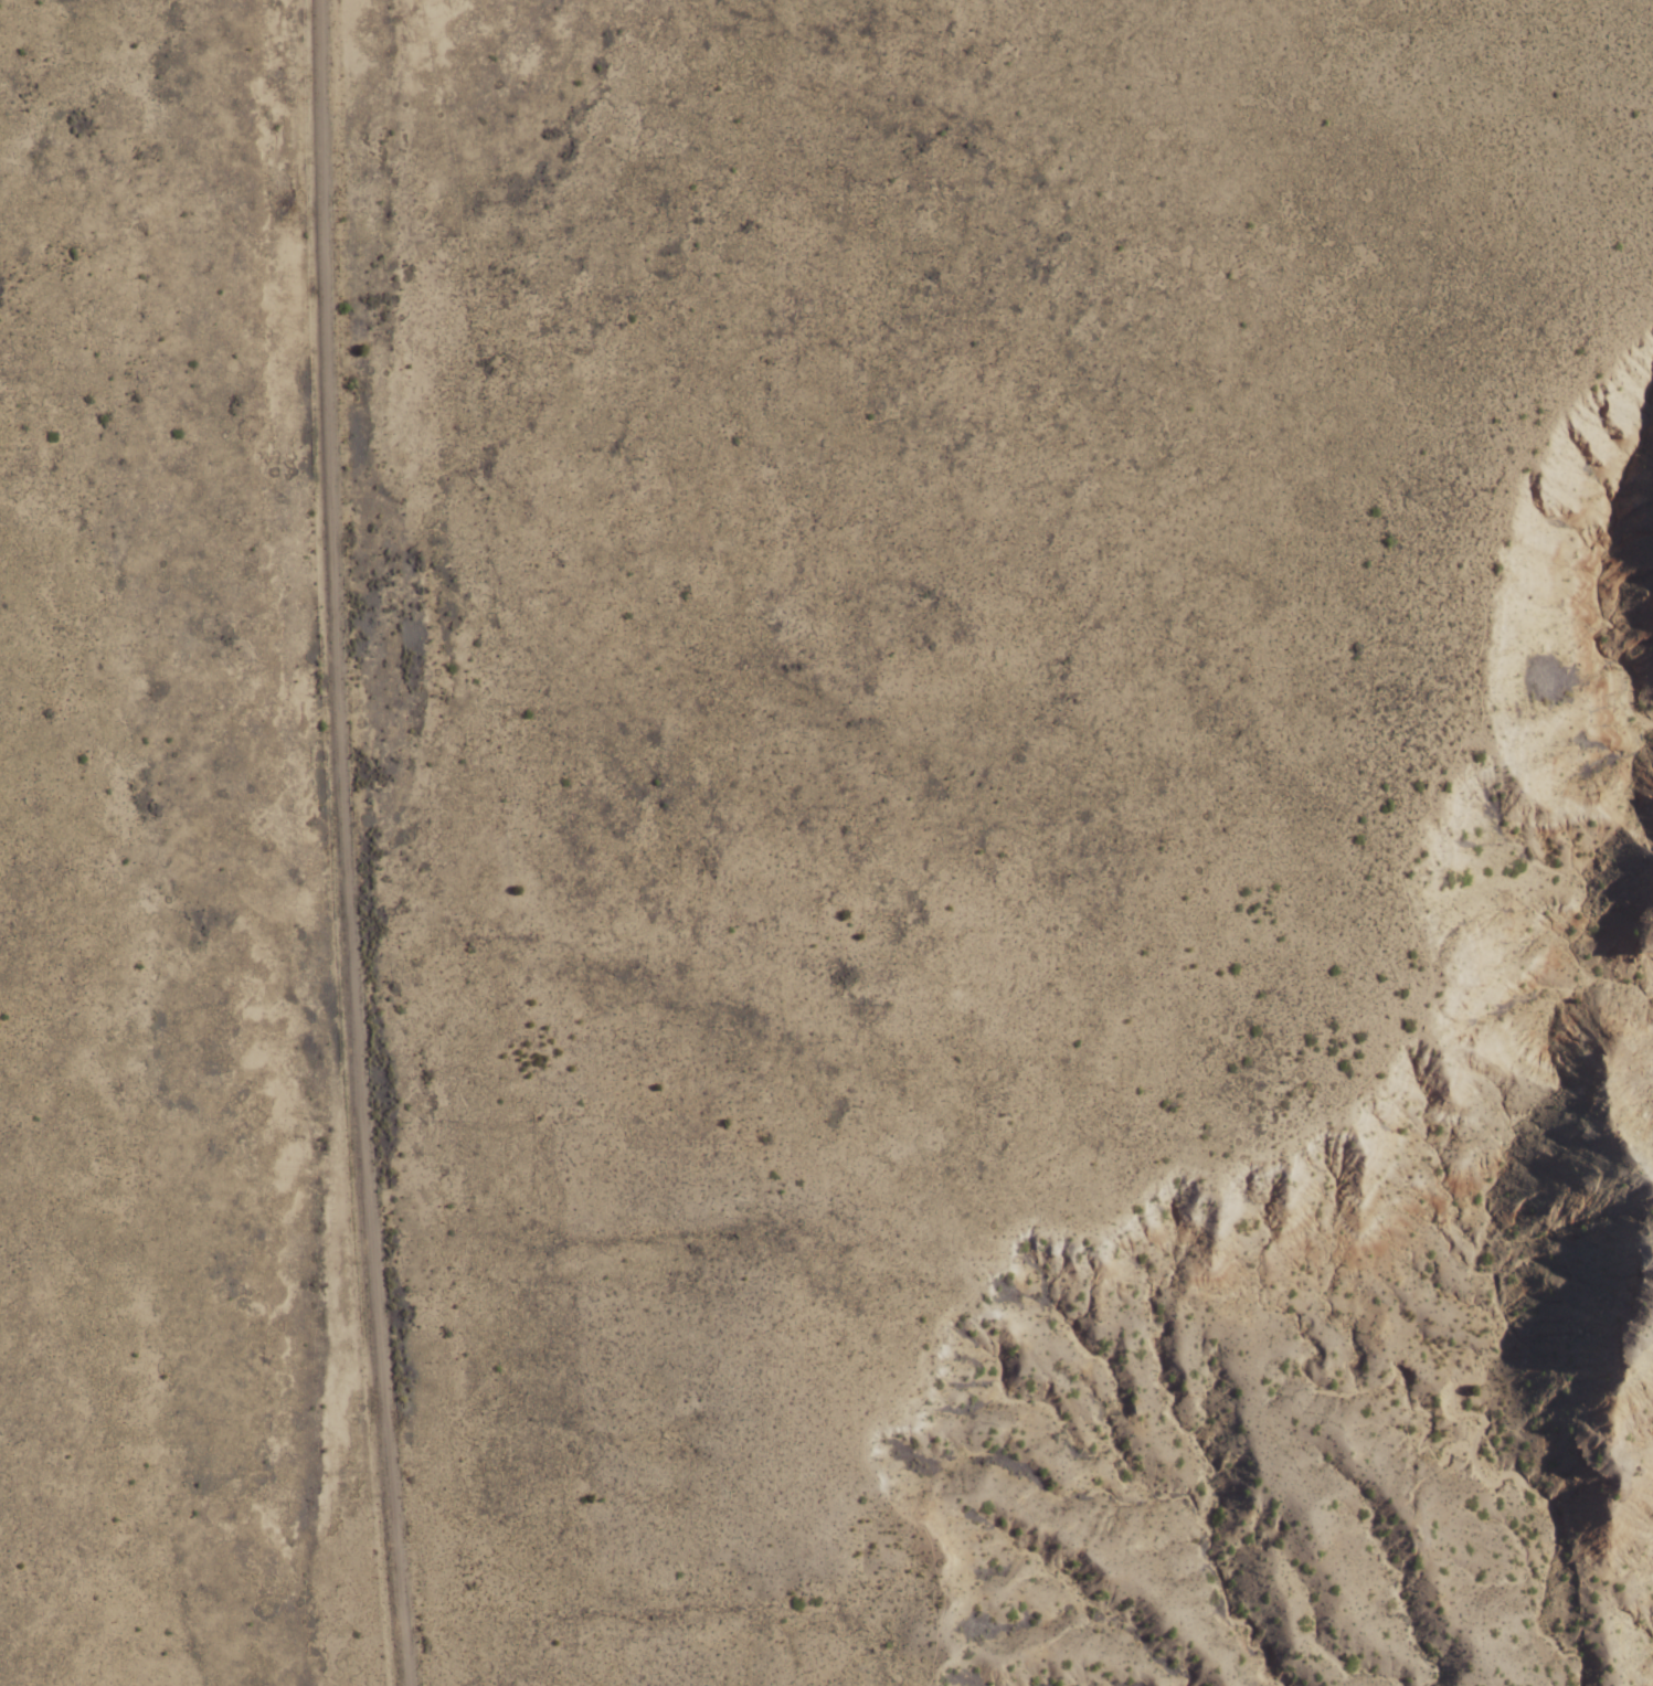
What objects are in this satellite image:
road: (343, 844)
road: (1342, 1110)

